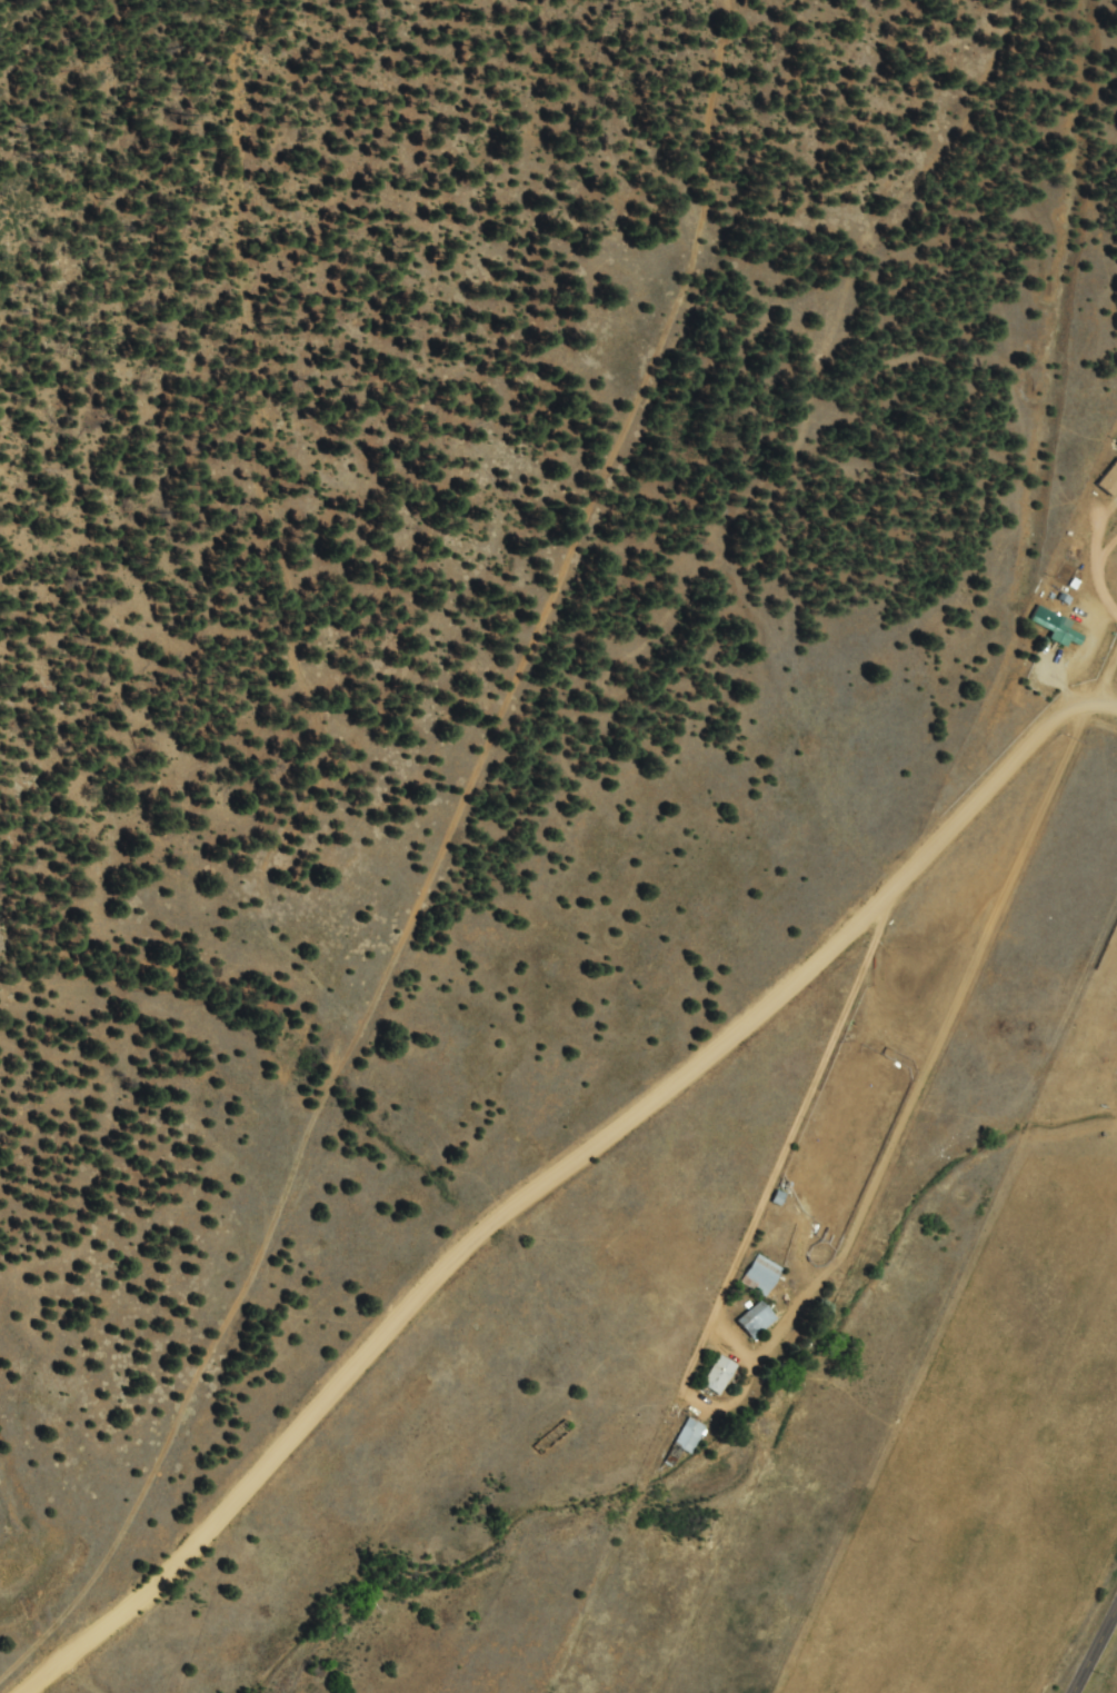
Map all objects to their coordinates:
road: (1030, 296)
building: (1106, 476)
building: (1050, 628)
road: (513, 1163)
building: (772, 1199)
building: (757, 1276)
building: (750, 1322)
building: (714, 1376)
building: (682, 1436)
road: (1093, 1646)

